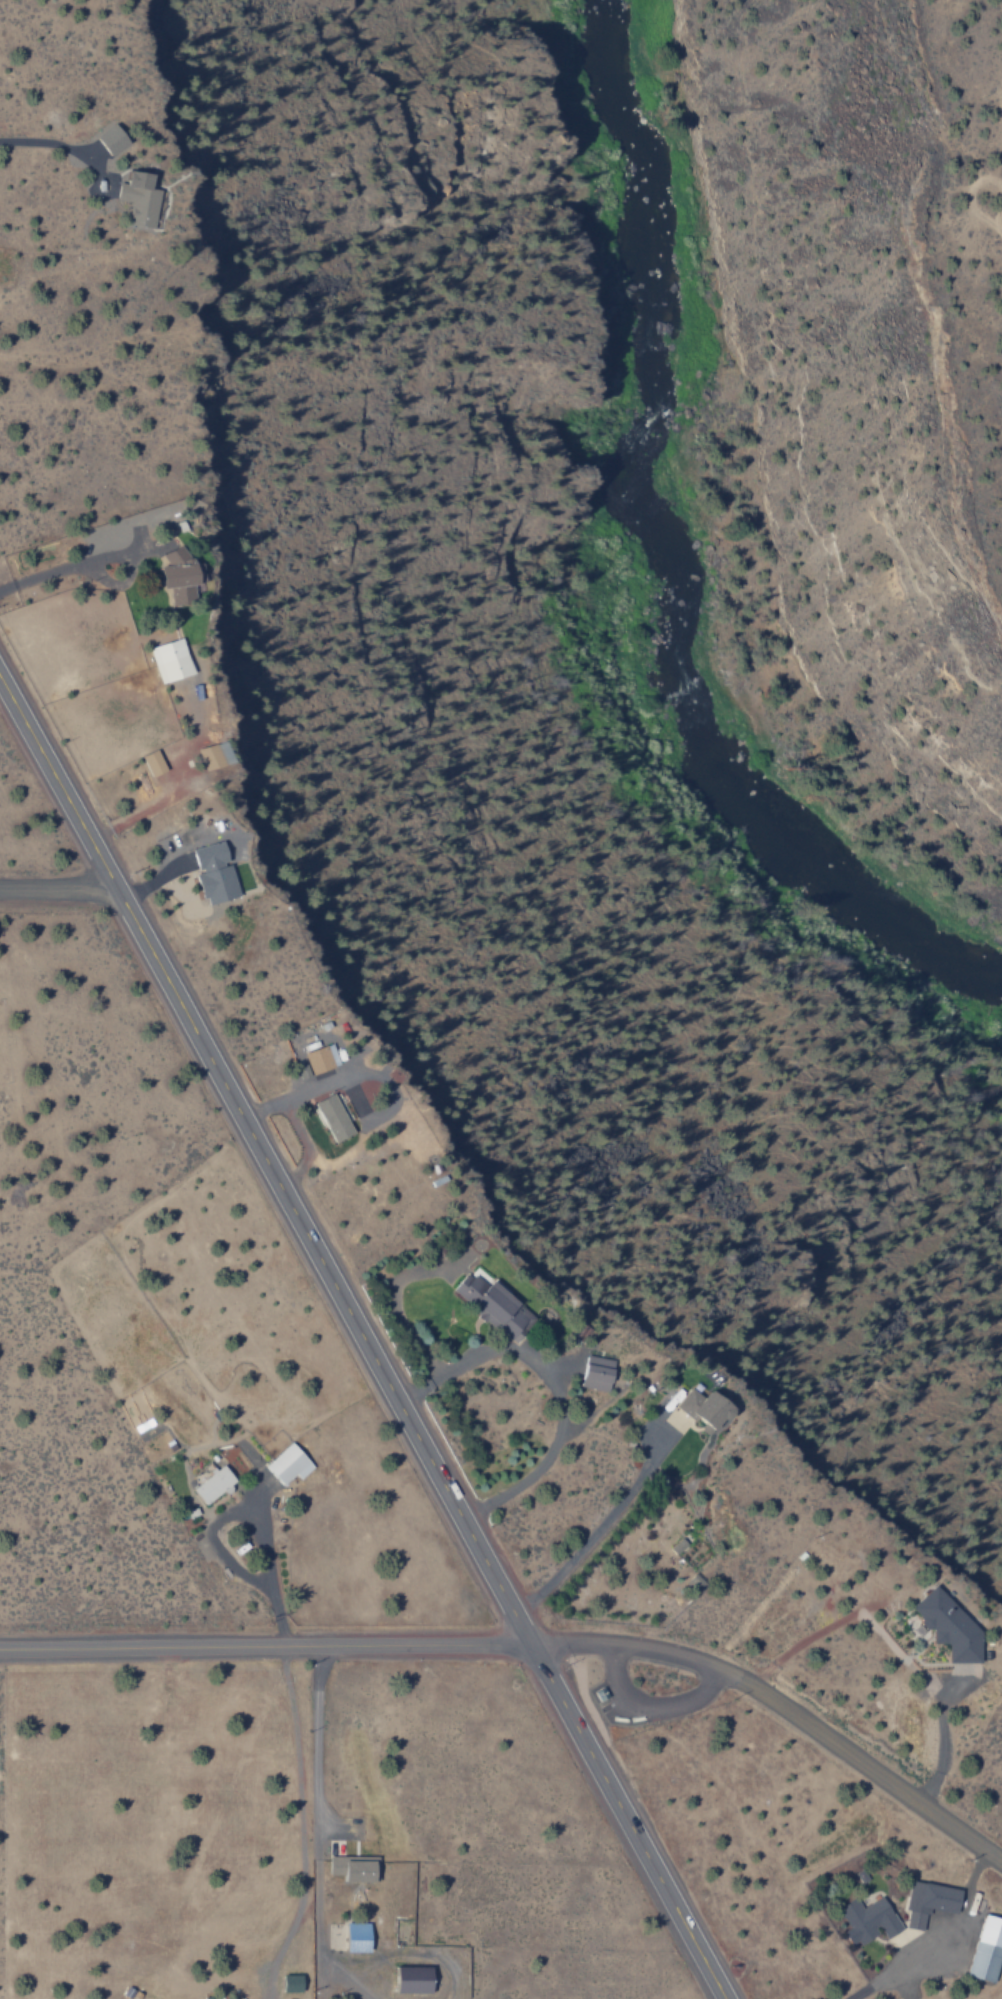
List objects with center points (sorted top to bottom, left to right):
building: (113, 140)
building: (141, 199)
road: (995, 230)
river: (667, 561)
building: (176, 577)
building: (171, 661)
building: (212, 756)
building: (154, 764)
building: (215, 874)
road: (55, 891)
building: (322, 1059)
building: (334, 1118)
building: (494, 1306)
road: (358, 1343)
building: (598, 1373)
building: (706, 1410)
building: (290, 1465)
building: (214, 1485)
building: (679, 1546)
building: (950, 1627)
road: (263, 1648)
road: (780, 1711)
building: (355, 1868)
building: (931, 1902)
building: (869, 1920)
building: (359, 1937)
building: (988, 1950)
building: (415, 1979)
building: (293, 1983)
building: (210, 1998)

